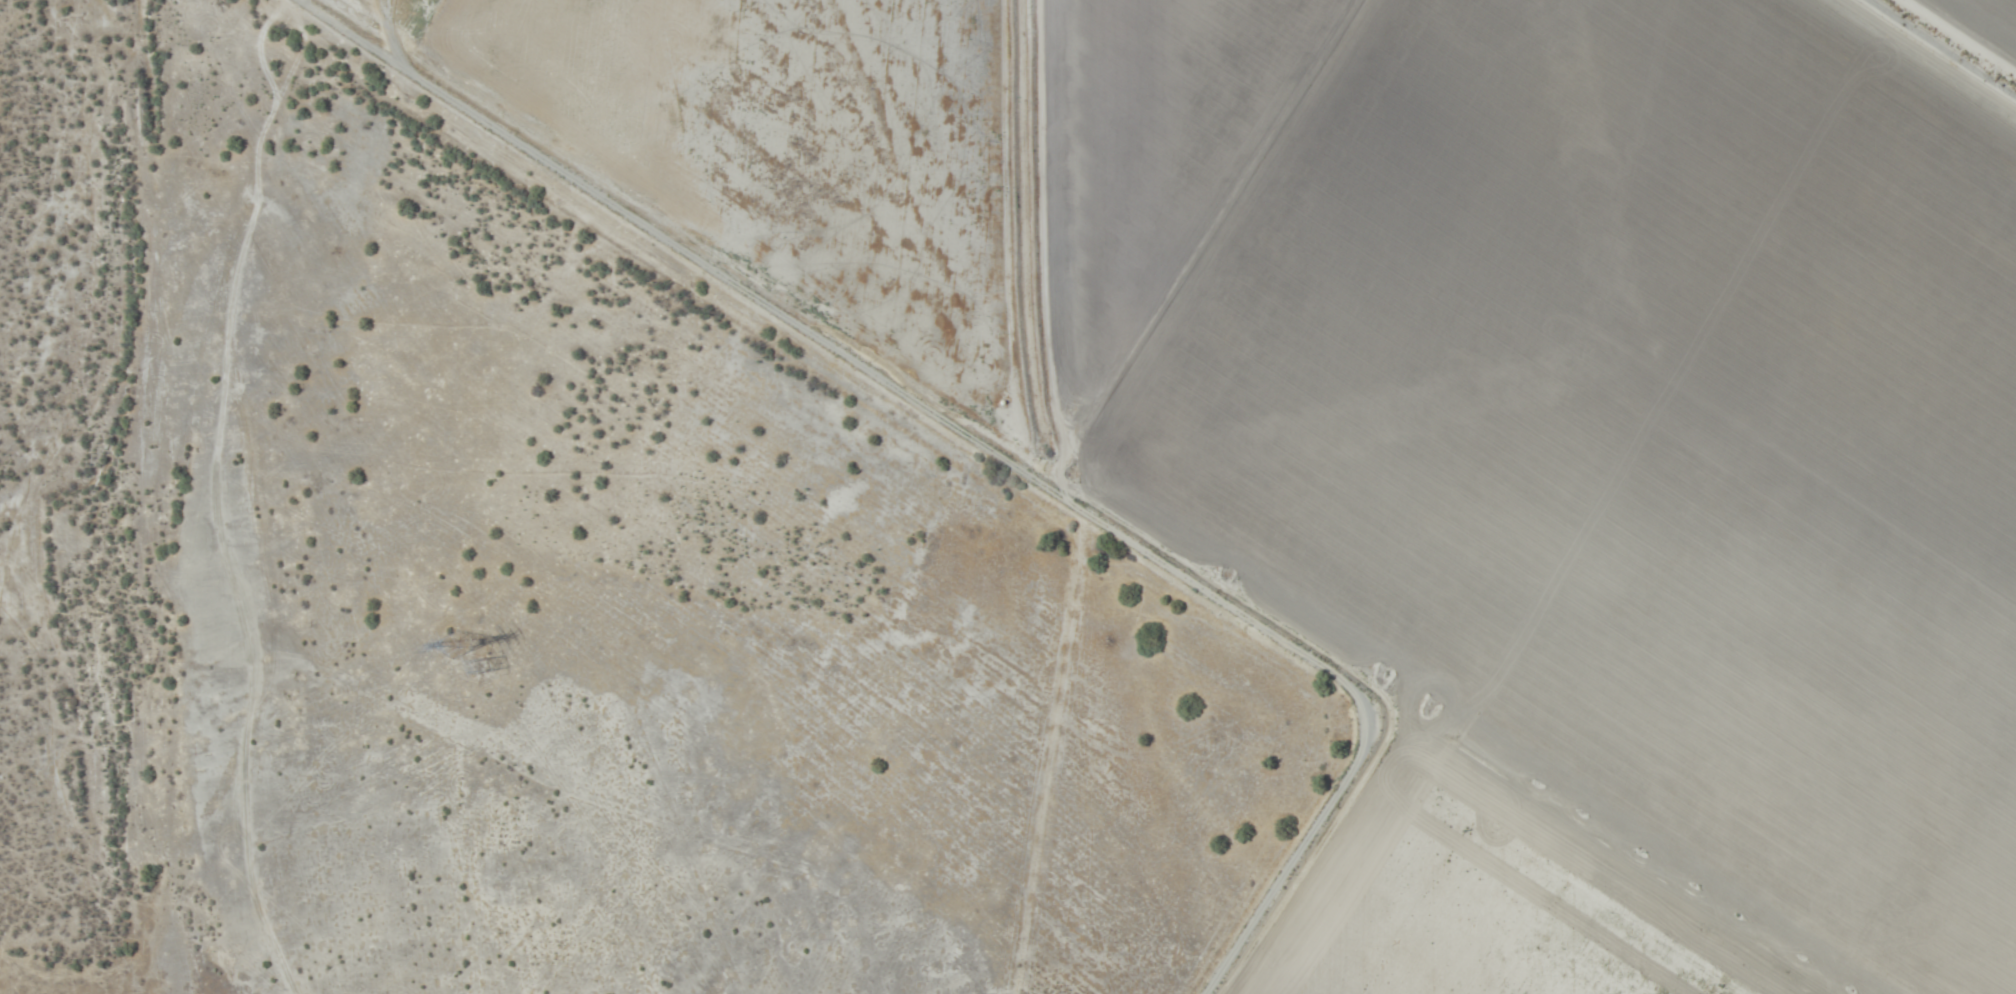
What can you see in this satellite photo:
crop: (1631, 430)
road: (1073, 552)
power tower: (452, 643)

